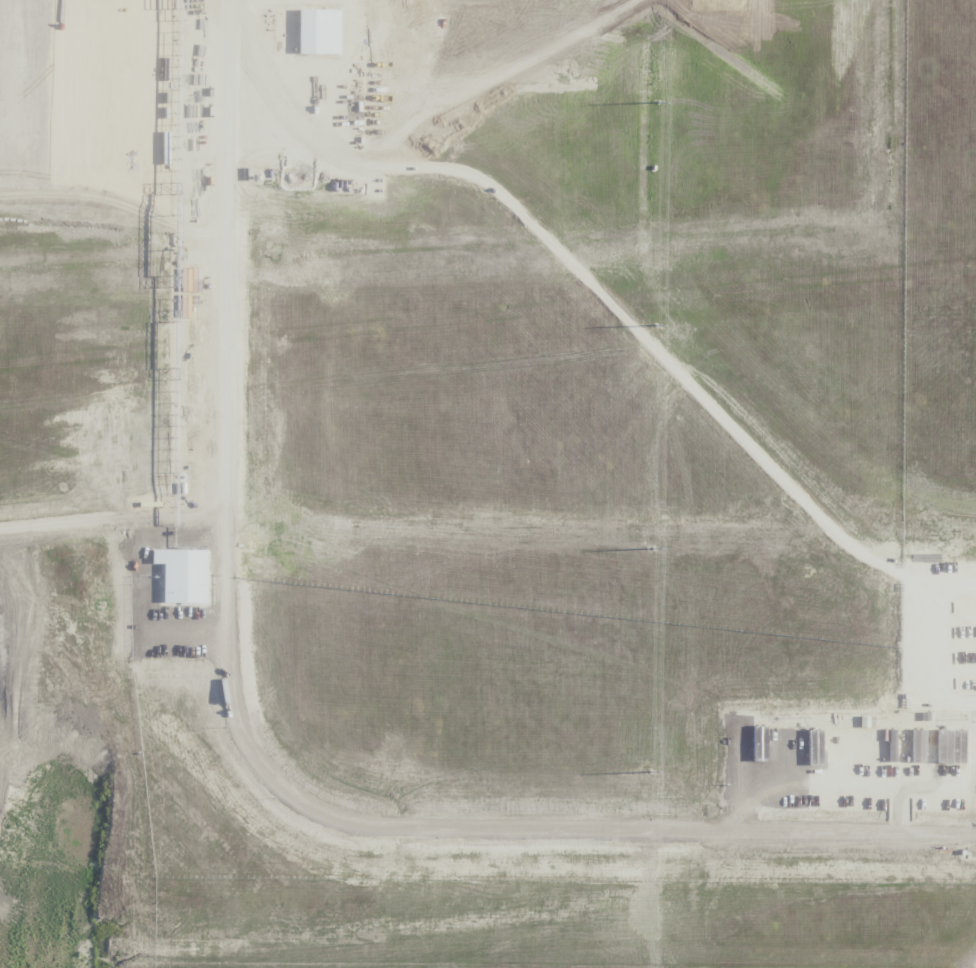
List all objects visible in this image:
crop: (488, 484)

